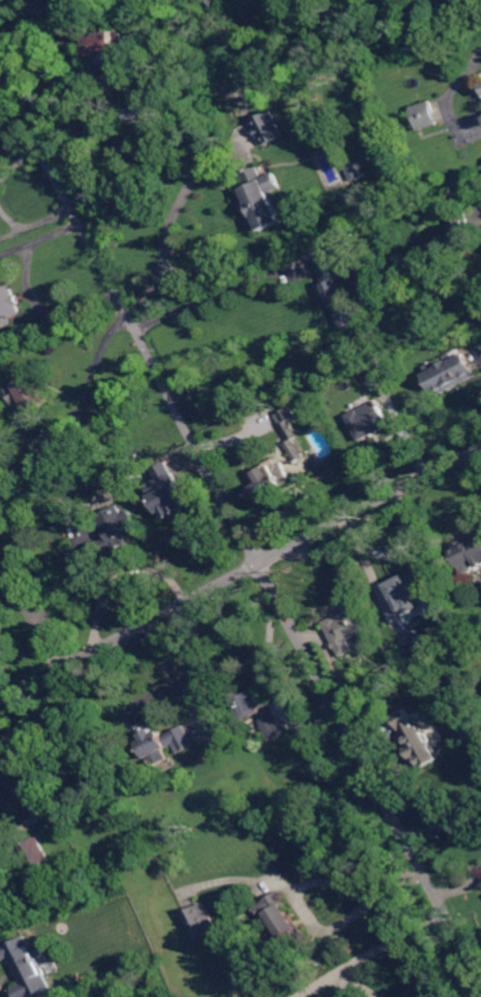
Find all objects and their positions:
building: (209, 3)
building: (103, 44)
building: (133, 115)
building: (424, 115)
building: (269, 129)
building: (125, 155)
building: (355, 170)
building: (260, 198)
building: (459, 224)
road: (169, 226)
building: (397, 278)
building: (340, 287)
road: (222, 290)
road: (29, 291)
building: (8, 306)
building: (2, 333)
road: (95, 363)
building: (370, 374)
building: (451, 375)
building: (28, 393)
building: (367, 419)
building: (288, 422)
building: (295, 451)
building: (30, 457)
building: (269, 479)
building: (168, 492)
building: (15, 513)
road: (237, 522)
building: (113, 531)
building: (469, 556)
road: (240, 573)
building: (12, 585)
building: (404, 592)
building: (349, 628)
building: (416, 649)
building: (386, 673)
building: (248, 701)
building: (270, 728)
building: (415, 737)
building: (164, 743)
building: (1, 779)
building: (4, 798)
road: (4, 832)
road: (447, 833)
building: (32, 853)
road: (306, 883)
building: (280, 921)
building: (200, 922)
road: (391, 942)
building: (25, 968)

